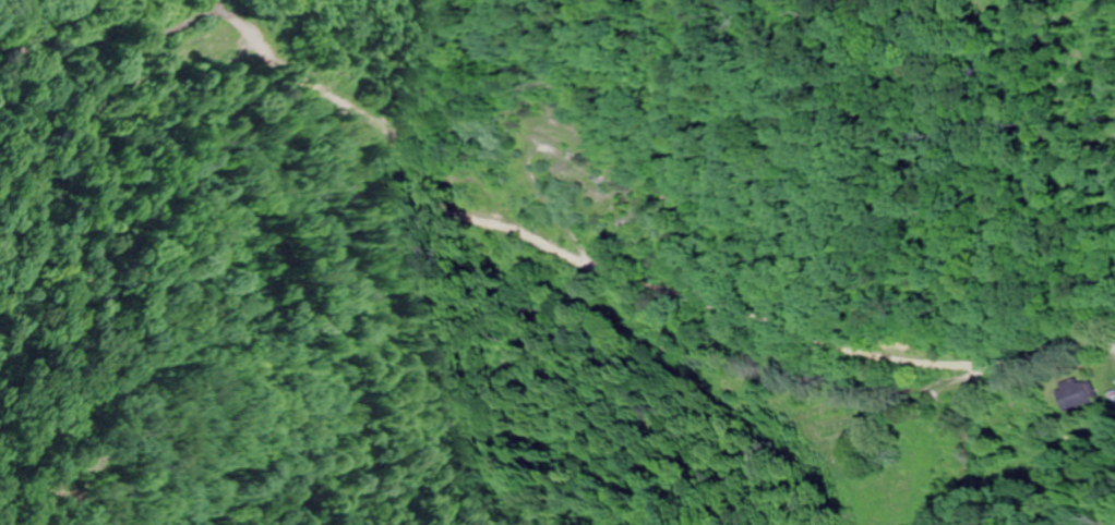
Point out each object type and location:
road: (847, 343)
road: (776, 359)
building: (1068, 393)

